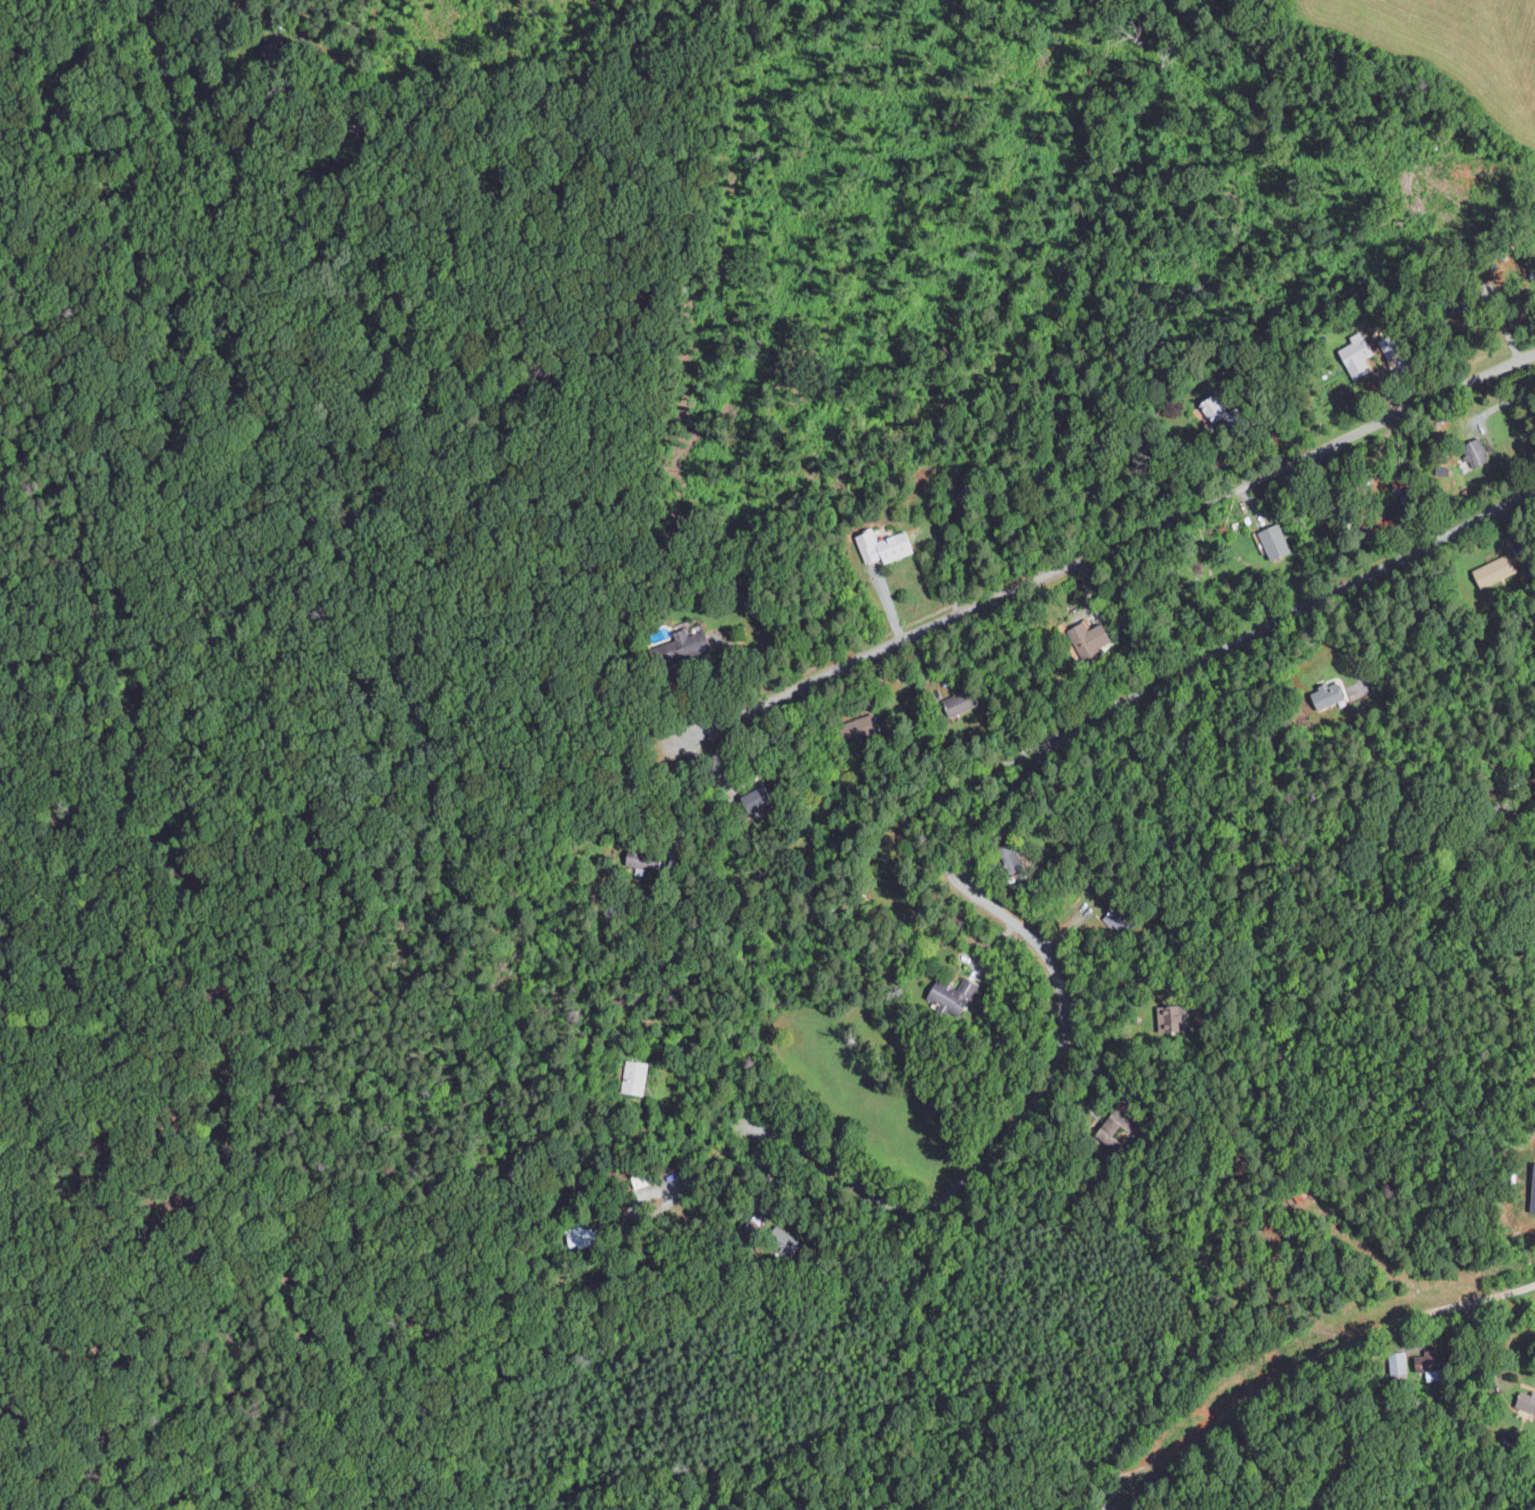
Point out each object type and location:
road: (265, 17)
road: (1503, 402)
building: (1482, 453)
road: (1111, 548)
building: (1491, 573)
building: (1094, 635)
road: (682, 800)
road: (976, 830)
road: (1114, 982)
road: (698, 1116)
road: (713, 1161)
road: (1485, 1358)
road: (1311, 1360)
building: (1528, 1401)
road: (1097, 1483)

